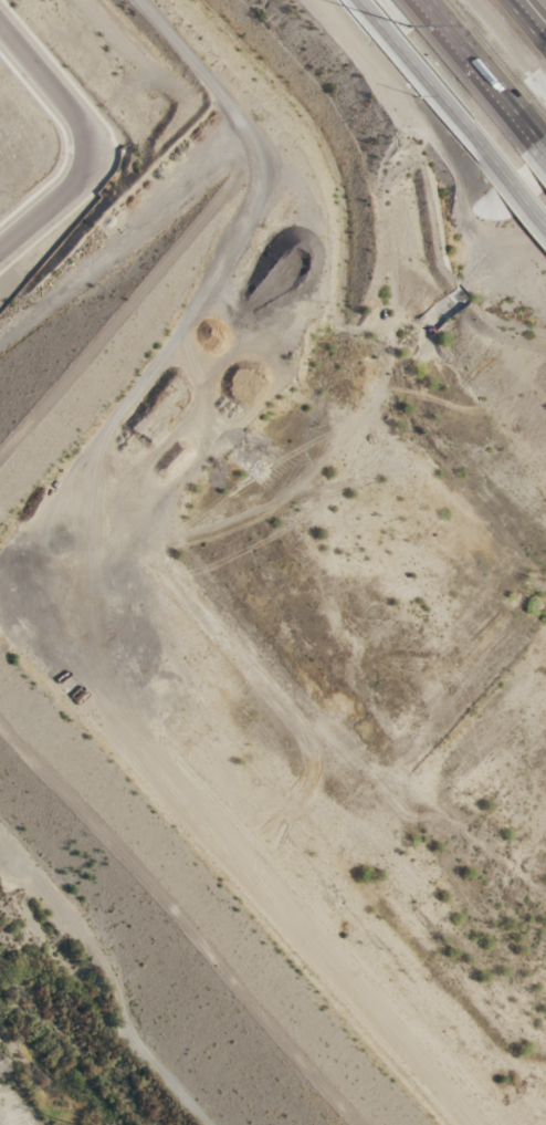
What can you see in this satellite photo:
road: (531, 18)
road: (487, 69)
road: (49, 80)
road: (430, 91)
road: (55, 198)
road: (527, 204)
dam: (120, 314)
dam: (169, 927)

